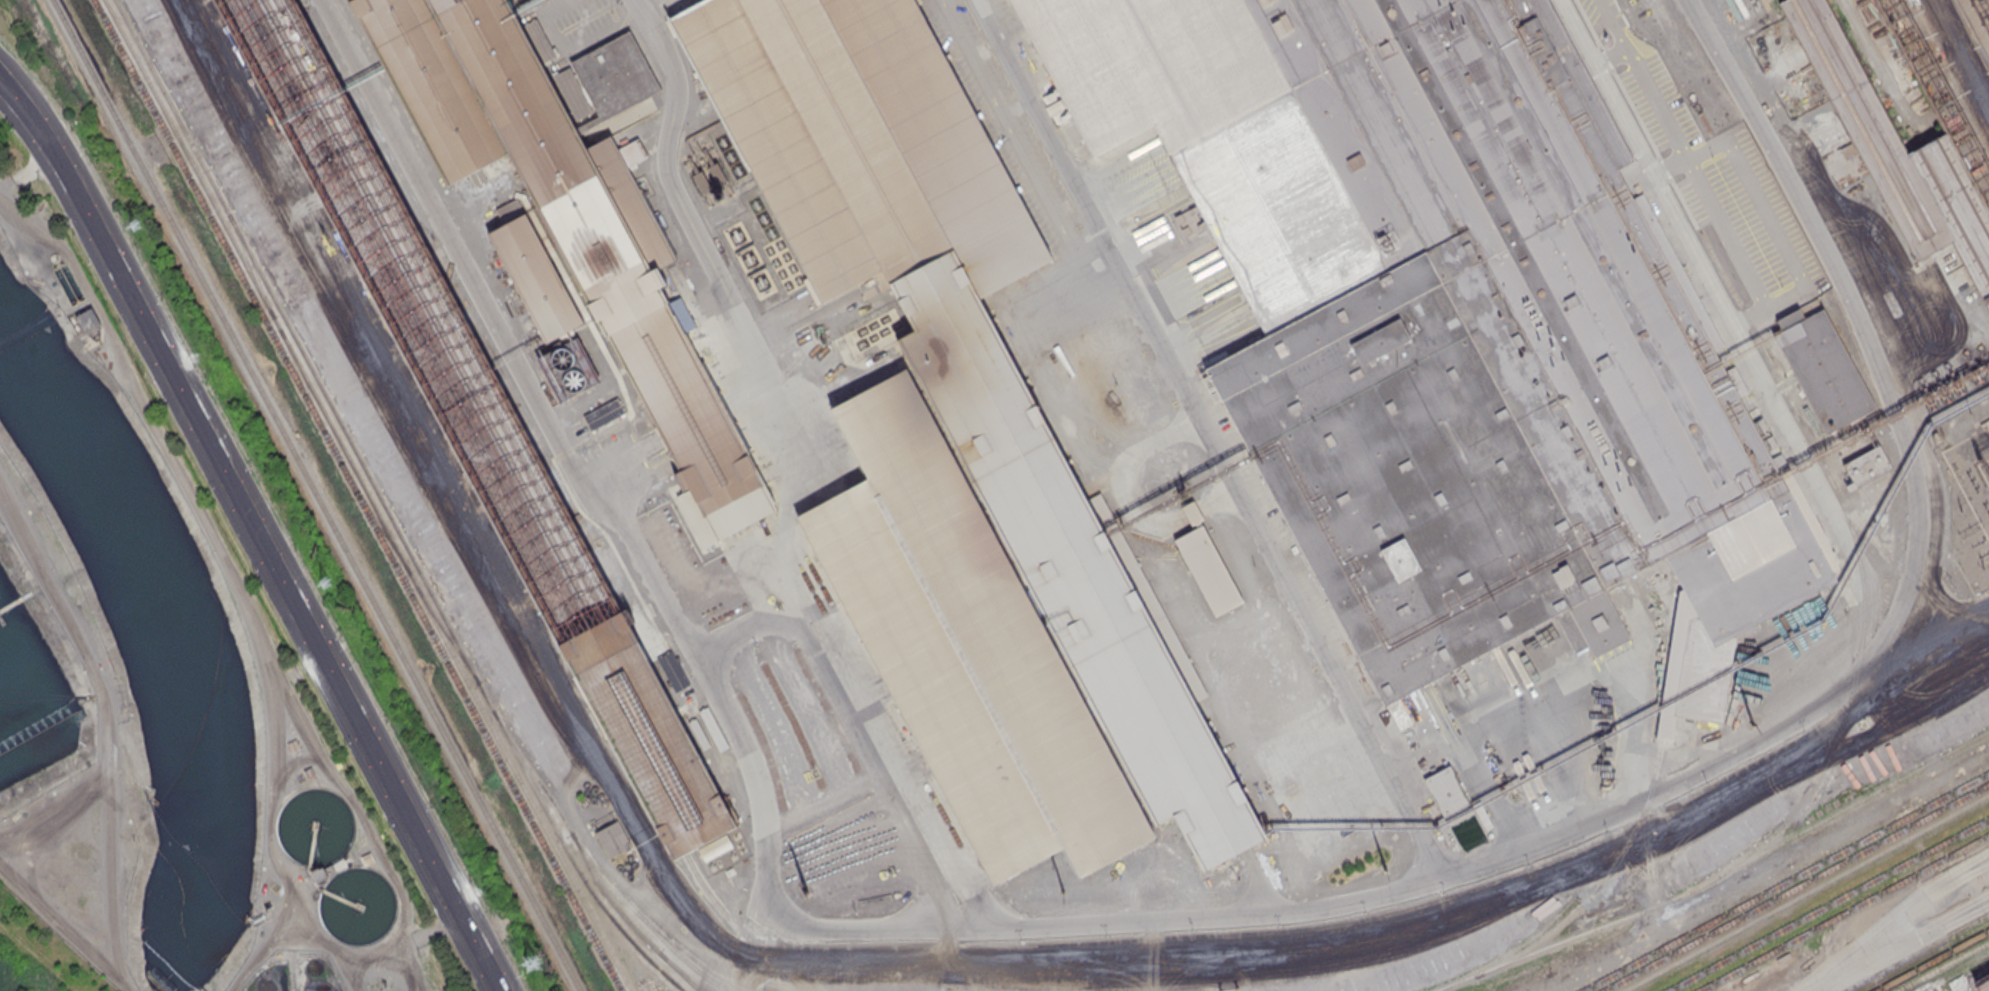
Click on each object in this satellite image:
road: (1963, 52)
building: (1897, 153)
building: (573, 208)
building: (1188, 220)
railway: (1695, 221)
power tower: (134, 223)
road: (1139, 240)
railway: (251, 266)
building: (534, 277)
road: (733, 308)
railway: (430, 311)
road: (1199, 320)
building: (86, 323)
building: (1450, 326)
building: (960, 339)
building: (1822, 367)
railway: (302, 380)
railway: (500, 419)
building: (1984, 425)
road: (1210, 442)
building: (1867, 465)
power substation: (1965, 479)
road: (590, 486)
building: (1849, 486)
road: (452, 491)
railway: (316, 495)
railway: (357, 495)
railway: (368, 495)
railway: (384, 506)
building: (1192, 511)
power tower: (1959, 512)
railway: (380, 526)
road: (255, 533)
railway: (1883, 549)
building: (1207, 568)
power tower: (327, 583)
railway: (448, 635)
road: (1943, 637)
building: (965, 647)
railway: (1851, 695)
power tower: (1753, 722)
road: (851, 727)
building: (648, 736)
road: (1673, 788)
building: (1446, 790)
railway: (1838, 811)
building: (613, 840)
railway: (592, 865)
road: (1976, 865)
power tower: (1385, 871)
railway: (1601, 881)
railway: (1795, 887)
power tower: (1064, 890)
power tower: (806, 891)
railway: (1806, 892)
railway: (1827, 904)
road: (1981, 904)
railway: (1843, 912)
railway: (628, 921)
road: (1882, 929)
railway: (741, 930)
road: (780, 938)
railway: (1562, 942)
railway: (1510, 949)
road: (1897, 950)
railway: (684, 951)
power tower: (534, 963)
railway: (1951, 970)
railway: (679, 972)
building: (1986, 989)

